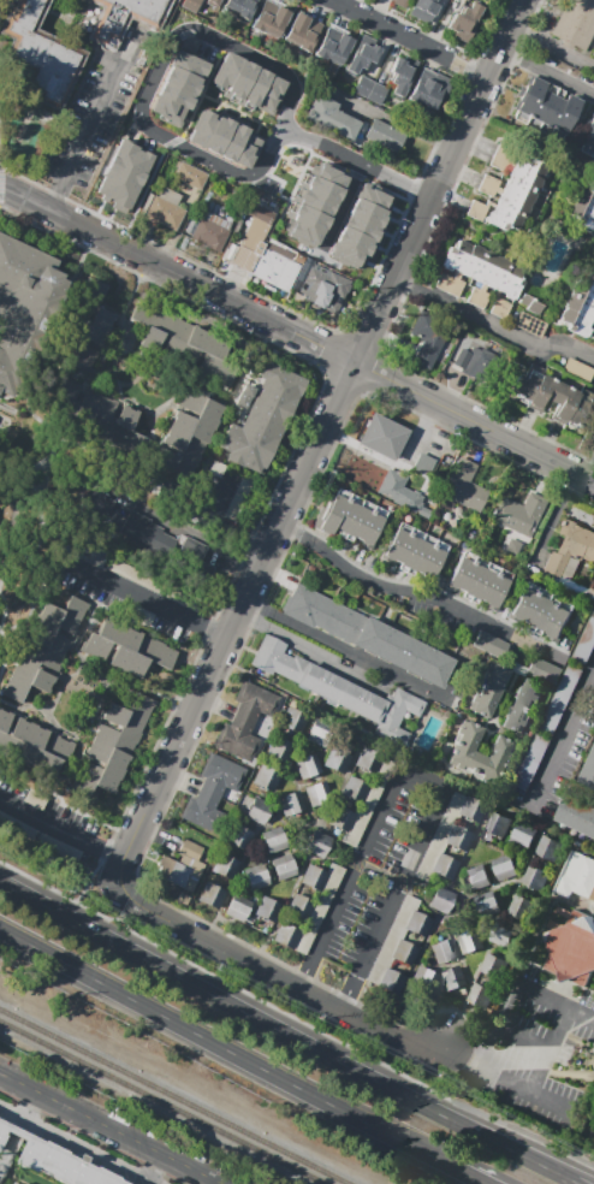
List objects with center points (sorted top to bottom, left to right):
building: (465, 0)
building: (212, 2)
building: (400, 2)
building: (190, 5)
building: (239, 8)
building: (422, 10)
building: (125, 19)
building: (269, 19)
road: (548, 19)
building: (465, 22)
building: (576, 24)
building: (303, 31)
road: (396, 34)
building: (195, 43)
road: (552, 46)
building: (333, 48)
road: (589, 52)
building: (593, 53)
building: (41, 54)
building: (361, 59)
road: (213, 67)
road: (160, 72)
road: (546, 72)
road: (473, 73)
building: (402, 75)
building: (249, 81)
building: (178, 87)
building: (369, 90)
building: (429, 90)
road: (219, 94)
road: (210, 97)
road: (226, 97)
building: (527, 97)
road: (240, 105)
building: (540, 105)
road: (218, 108)
road: (224, 112)
building: (552, 112)
road: (261, 114)
road: (238, 118)
building: (331, 118)
building: (566, 118)
road: (393, 120)
road: (89, 126)
road: (259, 128)
road: (277, 130)
road: (284, 132)
building: (386, 135)
road: (304, 137)
building: (588, 138)
building: (228, 140)
road: (285, 140)
building: (504, 150)
building: (593, 154)
road: (352, 160)
building: (132, 161)
road: (333, 162)
building: (498, 162)
building: (528, 162)
road: (310, 168)
building: (190, 176)
road: (0, 178)
building: (524, 178)
road: (436, 180)
building: (491, 180)
building: (113, 183)
road: (149, 183)
road: (406, 185)
road: (280, 187)
building: (486, 189)
building: (517, 190)
building: (130, 191)
road: (293, 191)
road: (63, 199)
building: (374, 199)
building: (511, 203)
building: (317, 206)
road: (344, 208)
building: (582, 208)
building: (475, 209)
road: (397, 211)
building: (367, 212)
building: (164, 213)
building: (499, 217)
road: (392, 219)
building: (361, 226)
road: (581, 227)
building: (209, 230)
road: (386, 233)
building: (354, 241)
road: (379, 248)
building: (265, 249)
building: (348, 255)
road: (372, 265)
road: (176, 274)
building: (479, 274)
road: (374, 277)
building: (19, 278)
road: (409, 284)
building: (323, 288)
road: (129, 301)
building: (580, 308)
building: (530, 318)
road: (492, 325)
building: (87, 327)
building: (428, 337)
building: (186, 344)
road: (360, 345)
road: (42, 347)
road: (109, 347)
road: (326, 349)
road: (137, 357)
building: (469, 359)
building: (577, 371)
building: (10, 372)
road: (380, 377)
road: (341, 380)
road: (188, 384)
building: (534, 389)
road: (12, 396)
building: (566, 404)
road: (143, 408)
road: (12, 410)
building: (95, 415)
building: (261, 418)
road: (473, 421)
road: (221, 422)
road: (6, 426)
road: (420, 433)
building: (188, 434)
building: (385, 437)
road: (76, 443)
building: (423, 464)
road: (283, 474)
road: (41, 479)
building: (464, 486)
building: (399, 490)
building: (239, 497)
road: (34, 501)
road: (154, 501)
building: (352, 517)
road: (552, 517)
building: (518, 520)
road: (215, 523)
building: (141, 531)
road: (192, 532)
road: (40, 538)
building: (414, 552)
building: (572, 558)
road: (281, 560)
building: (480, 580)
building: (153, 585)
road: (388, 585)
road: (249, 588)
road: (148, 600)
building: (540, 611)
building: (139, 616)
road: (0, 633)
building: (368, 635)
road: (75, 640)
building: (586, 643)
building: (491, 644)
building: (46, 647)
building: (125, 649)
road: (345, 649)
road: (77, 650)
road: (311, 652)
road: (1, 663)
building: (546, 670)
road: (60, 677)
road: (125, 681)
building: (340, 691)
building: (488, 691)
road: (93, 694)
building: (254, 701)
building: (521, 705)
road: (48, 716)
road: (83, 718)
building: (293, 721)
building: (547, 727)
road: (564, 730)
building: (319, 733)
building: (237, 738)
building: (32, 745)
building: (112, 746)
building: (280, 750)
building: (480, 753)
building: (337, 760)
building: (368, 760)
building: (308, 765)
building: (589, 772)
building: (220, 775)
building: (266, 777)
road: (281, 777)
road: (422, 780)
road: (343, 782)
building: (355, 789)
road: (302, 792)
building: (314, 794)
road: (59, 798)
building: (291, 803)
building: (366, 804)
road: (44, 805)
building: (471, 809)
building: (257, 810)
building: (203, 812)
building: (576, 815)
building: (340, 818)
road: (289, 824)
building: (498, 824)
building: (17, 825)
road: (61, 829)
road: (301, 831)
building: (439, 836)
building: (524, 836)
building: (239, 837)
building: (458, 837)
building: (273, 840)
building: (317, 843)
road: (469, 845)
building: (59, 847)
building: (550, 847)
road: (127, 853)
road: (269, 858)
building: (226, 866)
building: (445, 866)
building: (505, 866)
building: (180, 868)
building: (283, 868)
parking lot: (378, 876)
building: (577, 876)
building: (255, 877)
building: (314, 877)
building: (376, 877)
building: (479, 877)
road: (521, 877)
building: (536, 878)
road: (451, 888)
road: (491, 888)
building: (212, 895)
building: (441, 900)
building: (488, 904)
road: (139, 906)
road: (285, 906)
building: (522, 906)
building: (238, 907)
building: (299, 907)
building: (319, 908)
building: (268, 910)
road: (470, 918)
building: (417, 923)
building: (286, 935)
building: (503, 935)
building: (392, 939)
building: (470, 940)
road: (236, 941)
building: (572, 948)
building: (444, 951)
building: (404, 952)
road: (459, 952)
building: (495, 965)
road: (412, 969)
building: (424, 977)
building: (453, 977)
building: (390, 981)
road: (321, 985)
road: (301, 987)
building: (482, 994)
road: (558, 1001)
road: (295, 1019)
road: (422, 1019)
road: (291, 1034)
road: (475, 1038)
road: (523, 1038)
road: (580, 1044)
road: (230, 1047)
parking lot: (530, 1048)
road: (546, 1048)
road: (564, 1075)
road: (500, 1078)
railway: (174, 1096)
railway: (164, 1100)
road: (30, 1105)
road: (111, 1127)
road: (77, 1145)
building: (48, 1160)
road: (155, 1167)
road: (477, 1174)
building: (10, 1183)

